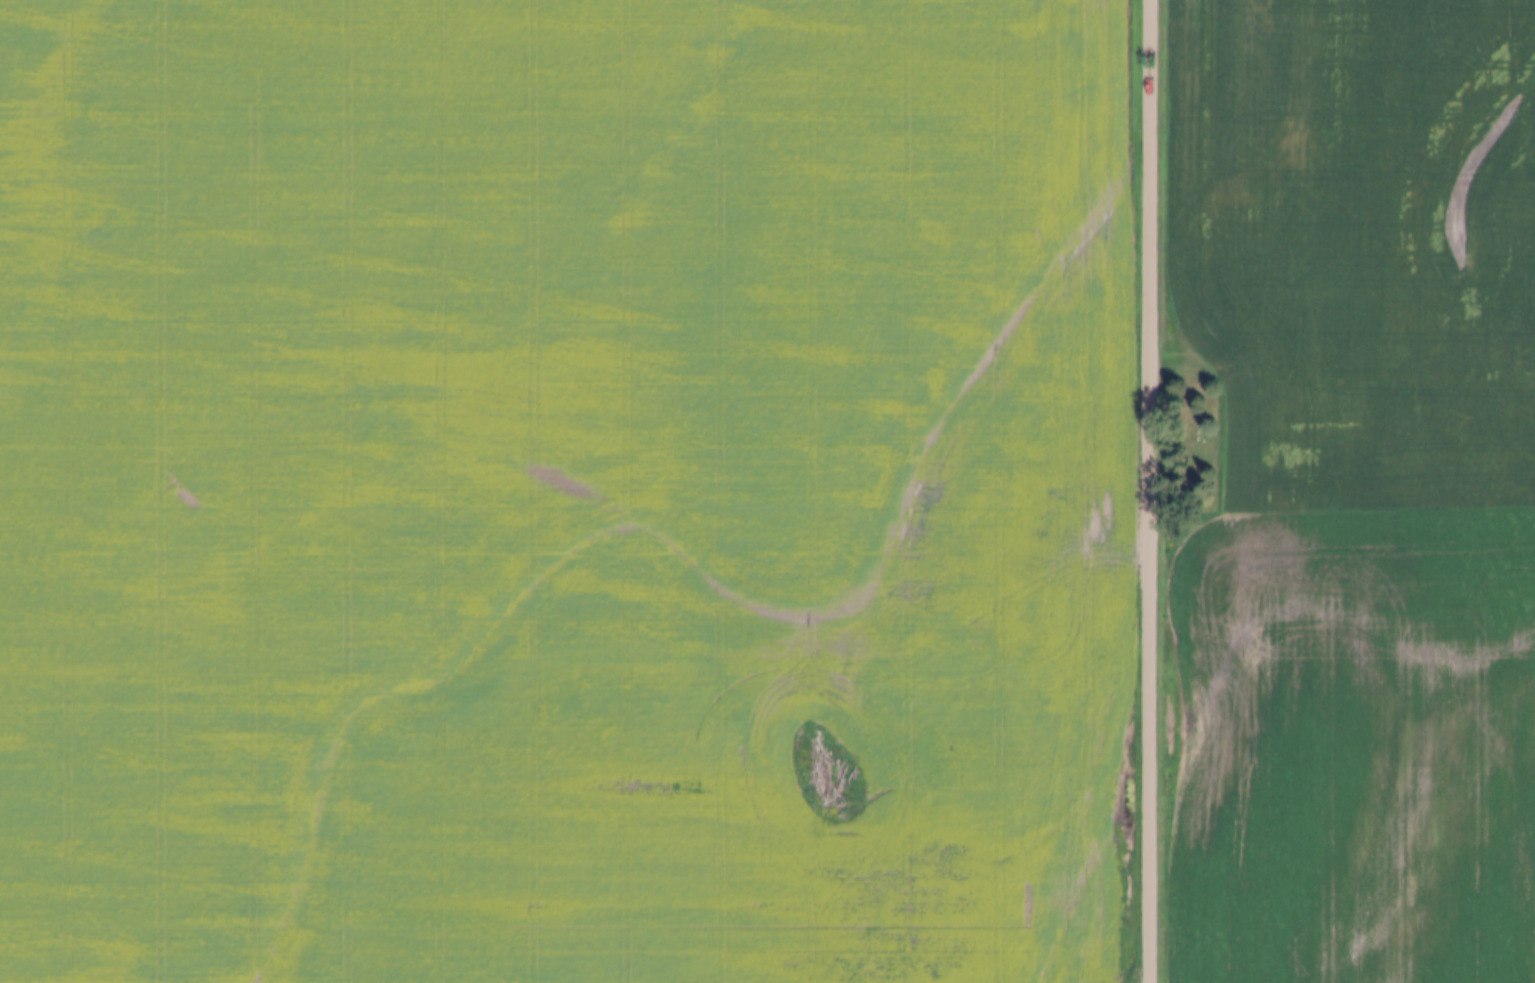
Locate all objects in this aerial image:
road: (1156, 491)
road: (865, 980)
road: (1130, 981)

